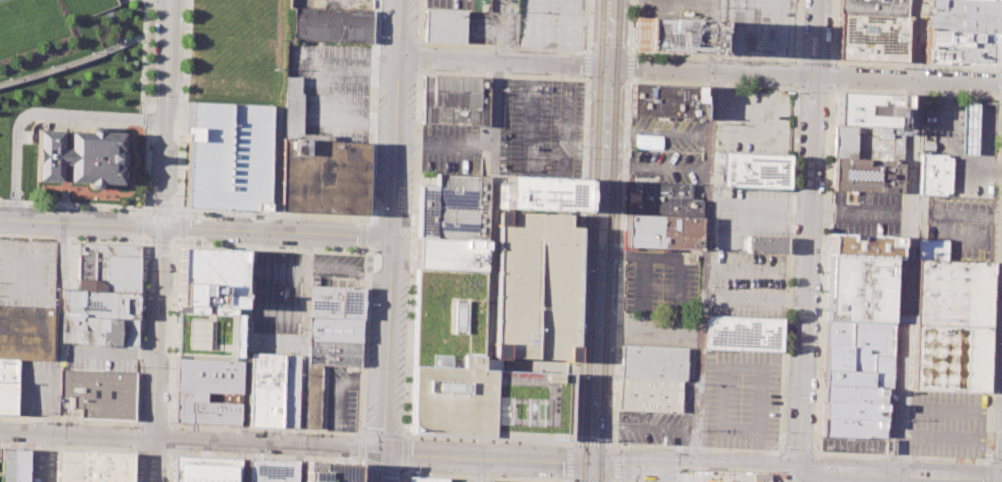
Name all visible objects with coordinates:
building: (993, 0)
street lamp: (138, 2)
parking lot: (448, 5)
parking lot: (488, 5)
building: (873, 7)
parking lot: (671, 9)
building: (963, 15)
parking lot: (553, 23)
building: (331, 25)
building: (444, 26)
road: (589, 26)
street lamp: (184, 27)
parking lot: (491, 27)
parking lot: (757, 27)
street lamp: (378, 30)
road: (797, 32)
road: (834, 32)
parking lot: (56, 35)
building: (669, 35)
road: (816, 37)
building: (872, 37)
street lamp: (417, 40)
street lamp: (138, 42)
street lamp: (589, 42)
street lamp: (629, 45)
road: (483, 46)
building: (962, 48)
road: (688, 56)
road: (421, 58)
road: (815, 60)
road: (504, 63)
road: (589, 64)
road: (915, 65)
road: (627, 67)
road: (806, 73)
road: (795, 74)
road: (832, 75)
street lamp: (560, 77)
street lamp: (136, 78)
street lamp: (633, 80)
road: (714, 84)
street lamp: (764, 85)
street lamp: (798, 87)
street lamp: (839, 87)
road: (815, 88)
road: (832, 89)
parking lot: (328, 91)
street lamp: (964, 92)
road: (1001, 92)
street lamp: (148, 94)
road: (1001, 96)
building: (454, 100)
building: (666, 101)
street lamp: (625, 102)
road: (145, 103)
building: (293, 107)
building: (871, 108)
road: (42, 112)
parking lot: (750, 124)
building: (968, 128)
gas station: (968, 128)
parking lot: (541, 129)
parking lot: (666, 133)
street lamp: (178, 135)
road: (587, 135)
street lamp: (149, 141)
building: (869, 141)
street lamp: (373, 143)
road: (444, 143)
street lamp: (588, 144)
street lamp: (628, 148)
parking lot: (450, 149)
street lamp: (623, 150)
building: (76, 156)
building: (226, 156)
parking lot: (226, 156)
street lamp: (8, 163)
parking lot: (664, 167)
street lamp: (177, 168)
road: (546, 168)
building: (755, 170)
street lamp: (148, 174)
building: (865, 174)
building: (934, 174)
building: (322, 177)
street lamp: (7, 192)
street lamp: (148, 193)
building: (542, 193)
road: (997, 193)
street lamp: (176, 195)
building: (660, 200)
street lamp: (0, 203)
road: (30, 203)
road: (148, 203)
road: (161, 203)
road: (174, 203)
street lamp: (27, 206)
road: (102, 206)
street lamp: (51, 207)
building: (452, 207)
street lamp: (77, 208)
street lamp: (376, 208)
street lamp: (107, 209)
street lamp: (129, 210)
road: (139, 211)
street lamp: (175, 212)
parking lot: (863, 212)
road: (858, 213)
road: (182, 214)
road: (277, 214)
street lamp: (190, 215)
parking lot: (745, 215)
street lamp: (413, 217)
street lamp: (359, 221)
road: (363, 222)
road: (139, 224)
parking lot: (962, 226)
road: (182, 227)
road: (194, 228)
building: (659, 231)
road: (363, 234)
road: (490, 236)
street lamp: (82, 238)
street lamp: (105, 238)
street lamp: (129, 238)
road: (138, 238)
road: (183, 239)
street lamp: (145, 240)
road: (389, 240)
railway: (608, 240)
road: (908, 240)
road: (160, 241)
street lamp: (174, 241)
railway: (592, 241)
road: (603, 241)
road: (706, 241)
street lamp: (192, 243)
road: (177, 244)
street lamp: (219, 244)
building: (766, 244)
building: (863, 245)
street lamp: (260, 246)
street lamp: (1001, 246)
road: (147, 247)
road: (159, 247)
street lamp: (293, 247)
road: (363, 247)
road: (172, 248)
street lamp: (329, 249)
building: (931, 249)
street lamp: (358, 250)
street lamp: (278, 251)
building: (449, 254)
road: (142, 263)
parking lot: (336, 265)
building: (108, 267)
street lamp: (617, 268)
parking lot: (26, 271)
road: (277, 271)
road: (346, 271)
road: (825, 271)
street lamp: (171, 274)
street lamp: (331, 276)
road: (806, 277)
parking lot: (659, 280)
parking lot: (746, 284)
building: (534, 287)
parking lot: (534, 287)
building: (858, 289)
street lamp: (275, 291)
street lamp: (142, 302)
parking lot: (275, 302)
building: (335, 302)
street lamp: (410, 302)
building: (209, 303)
street lamp: (367, 303)
road: (275, 312)
building: (99, 317)
building: (901, 318)
building: (951, 325)
road: (56, 327)
street lamp: (274, 329)
building: (334, 329)
road: (650, 331)
street lamp: (141, 332)
parking lot: (662, 333)
building: (743, 333)
building: (839, 333)
road: (246, 336)
road: (302, 338)
building: (870, 344)
street lamp: (996, 344)
building: (332, 352)
parking lot: (98, 357)
building: (838, 357)
building: (652, 361)
street lamp: (408, 364)
street lamp: (140, 366)
street lamp: (365, 366)
building: (472, 369)
building: (882, 371)
street lamp: (614, 377)
building: (847, 378)
road: (39, 381)
building: (8, 386)
parking lot: (33, 386)
building: (206, 388)
building: (272, 390)
building: (101, 392)
road: (336, 392)
street lamp: (140, 393)
building: (649, 393)
street lamp: (785, 394)
building: (854, 394)
building: (312, 396)
parking lot: (338, 398)
parking lot: (741, 398)
road: (951, 407)
building: (853, 410)
road: (69, 420)
road: (912, 421)
street lamp: (101, 422)
parking lot: (947, 423)
road: (152, 425)
street lamp: (362, 425)
street lamp: (405, 425)
road: (170, 426)
parking lot: (654, 426)
building: (853, 427)
road: (406, 436)
road: (169, 438)
road: (135, 439)
road: (950, 439)
road: (190, 440)
road: (406, 440)
parking lot: (853, 444)
street lamp: (565, 445)
road: (83, 448)
road: (700, 448)
street lamp: (639, 449)
street lamp: (727, 450)
road: (150, 451)
traffic signals: (381, 451)
road: (169, 452)
road: (809, 452)
street lamp: (991, 452)
road: (260, 455)
street lamp: (820, 455)
road: (51, 457)
street lamp: (915, 457)
road: (486, 458)
road: (902, 458)
road: (570, 461)
road: (995, 461)
building: (0, 462)
road: (241, 462)
street lamp: (355, 462)
road: (297, 463)
traffic signals: (593, 463)
building: (14, 465)
parking lot: (37, 466)
road: (780, 466)
building: (93, 467)
building: (203, 469)
building: (268, 470)
road: (483, 470)
road: (797, 470)
building: (328, 471)
road: (988, 471)
street lamp: (412, 474)
road: (668, 474)
road: (483, 476)
road: (815, 477)
building: (426, 479)
street lamp: (567, 479)
parking lot: (470, 480)
street lamp: (637, 480)

